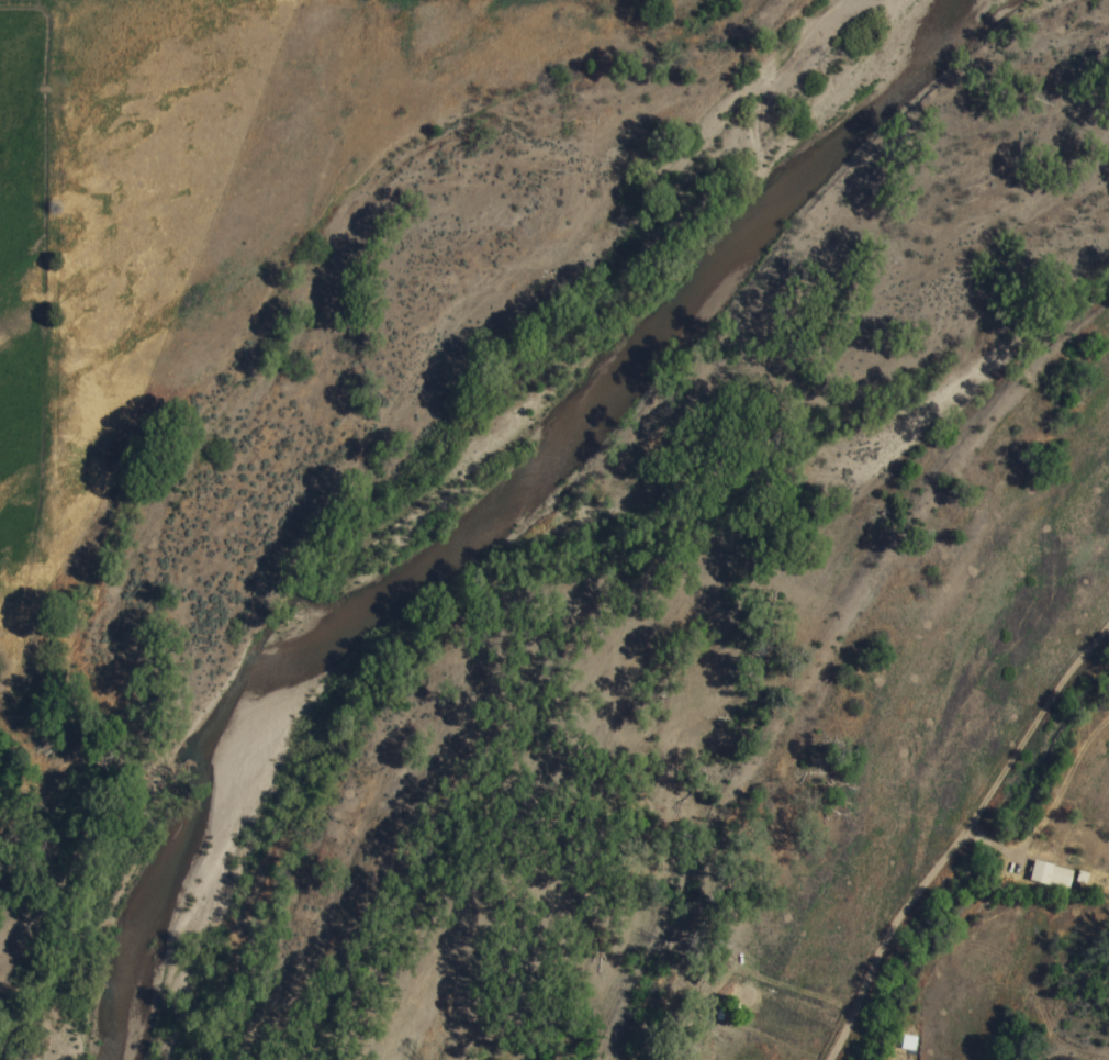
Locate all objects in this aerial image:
river: (484, 507)
building: (1049, 873)
building: (905, 1041)

